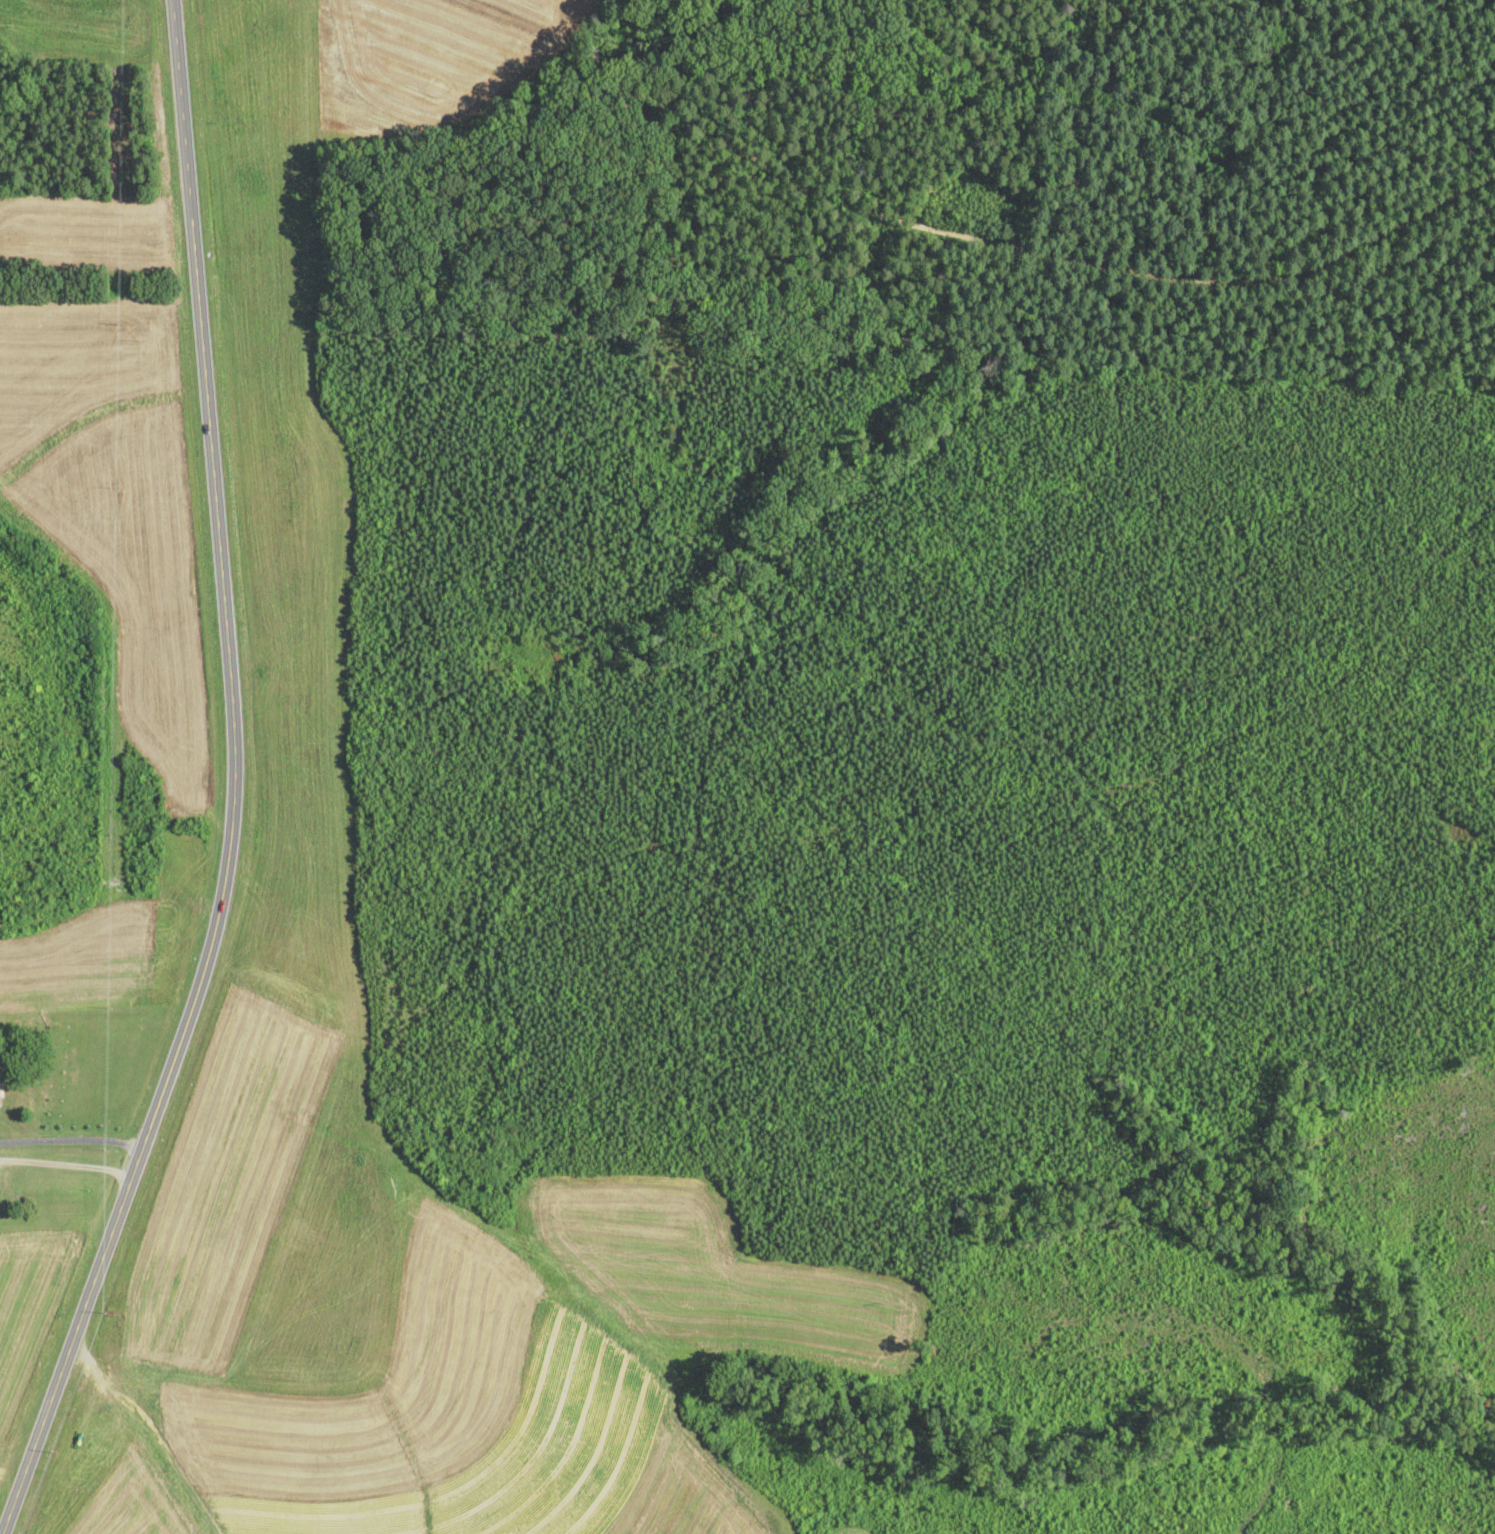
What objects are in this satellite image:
road: (229, 784)
road: (70, 1144)

